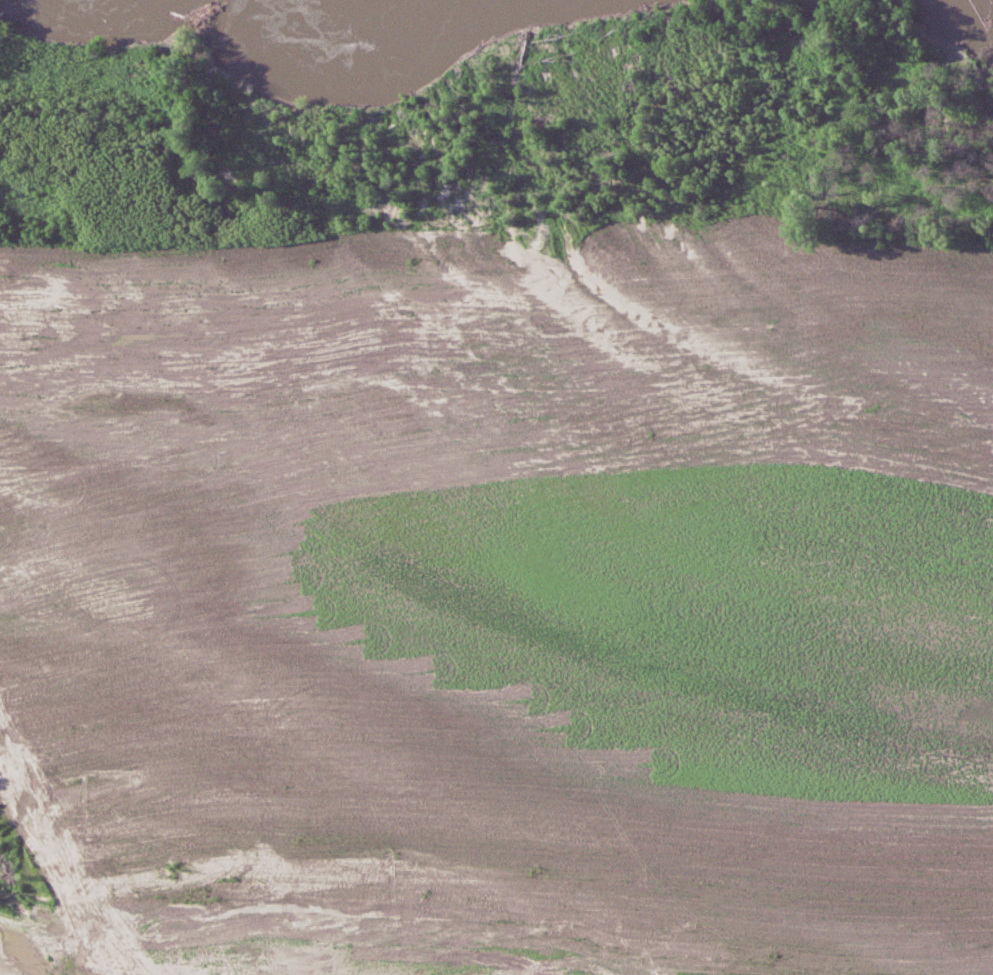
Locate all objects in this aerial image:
road: (448, 964)

